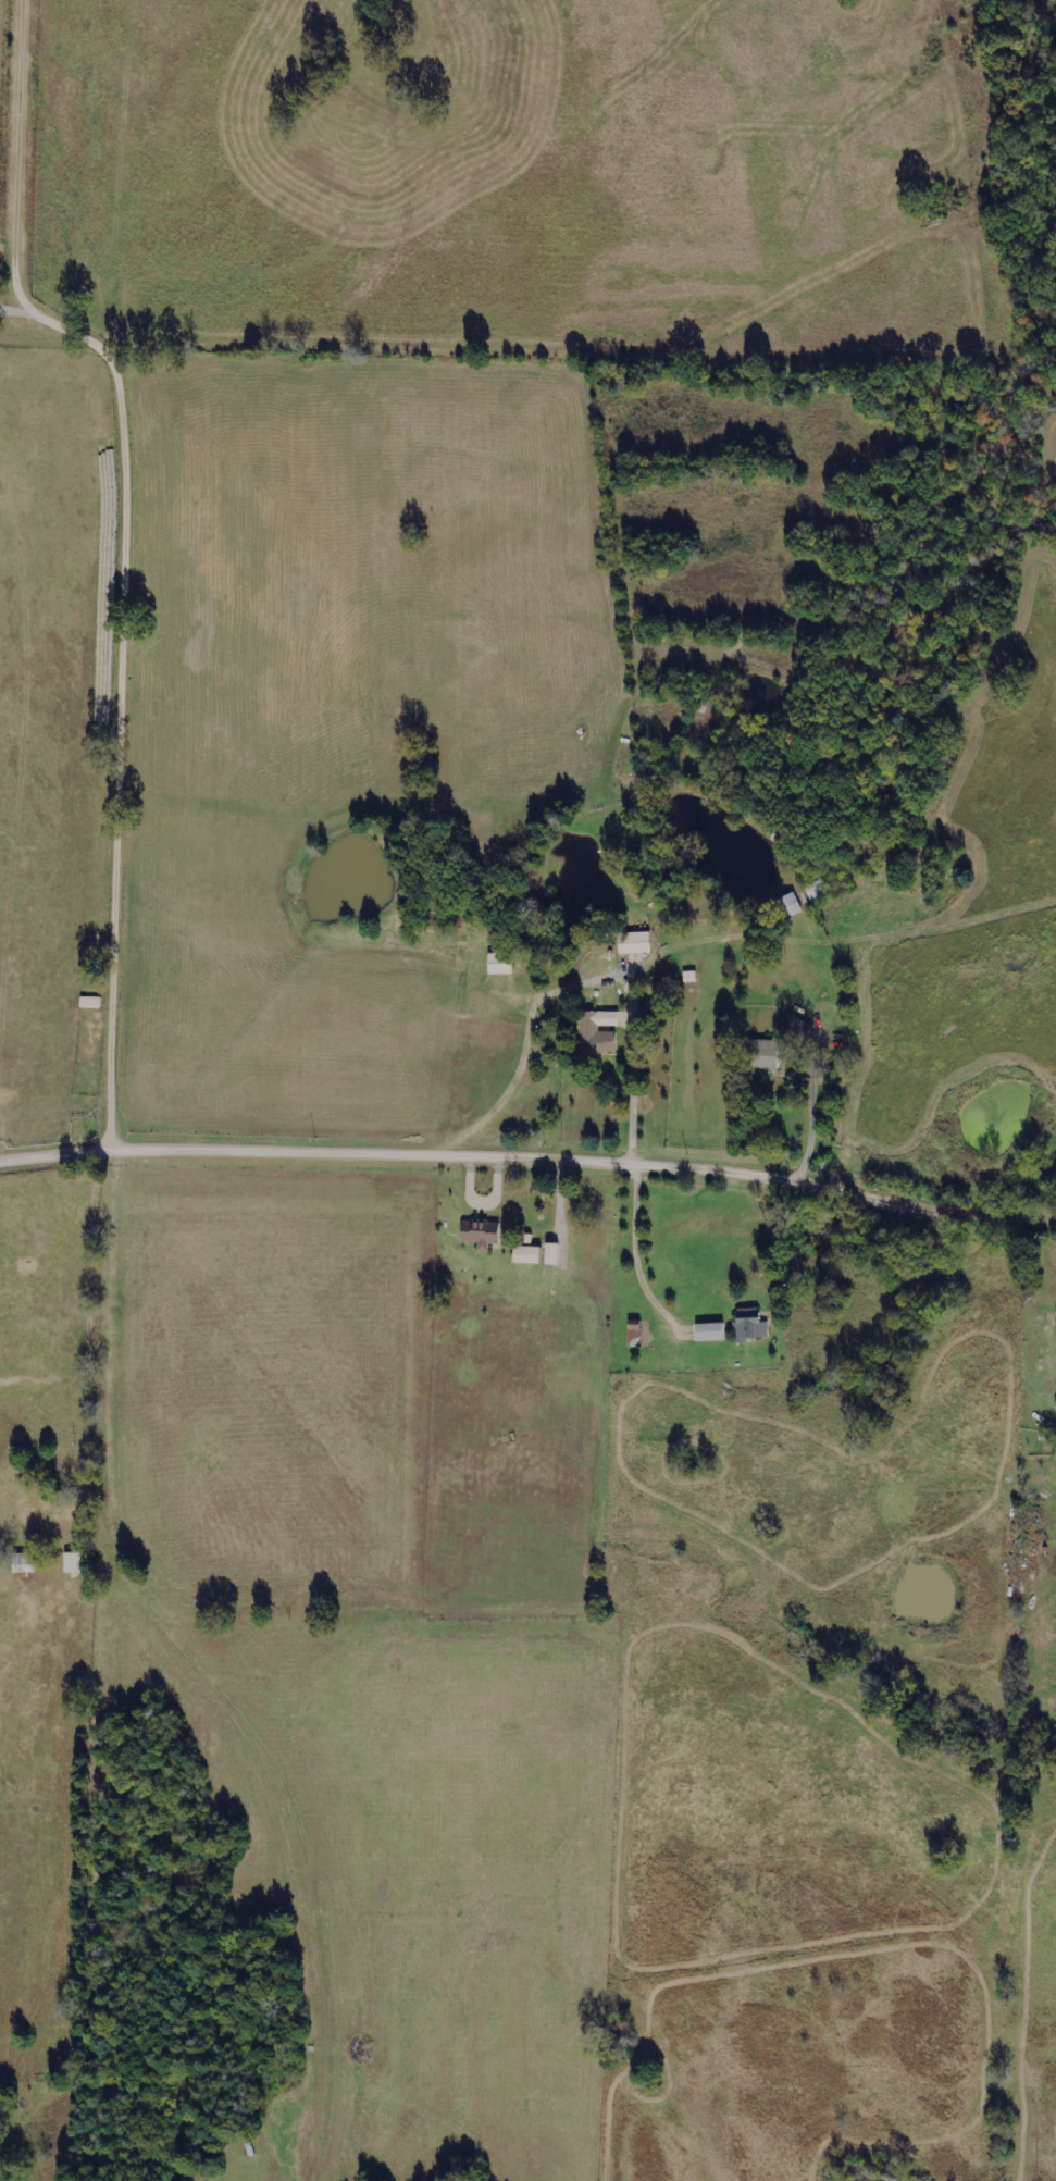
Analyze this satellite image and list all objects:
road: (126, 563)
building: (790, 905)
building: (636, 942)
building: (502, 963)
building: (601, 1030)
building: (766, 1053)
road: (530, 1139)
building: (483, 1232)
building: (554, 1253)
building: (529, 1254)
building: (755, 1328)
building: (712, 1331)
building: (29, 1562)
building: (75, 1562)

